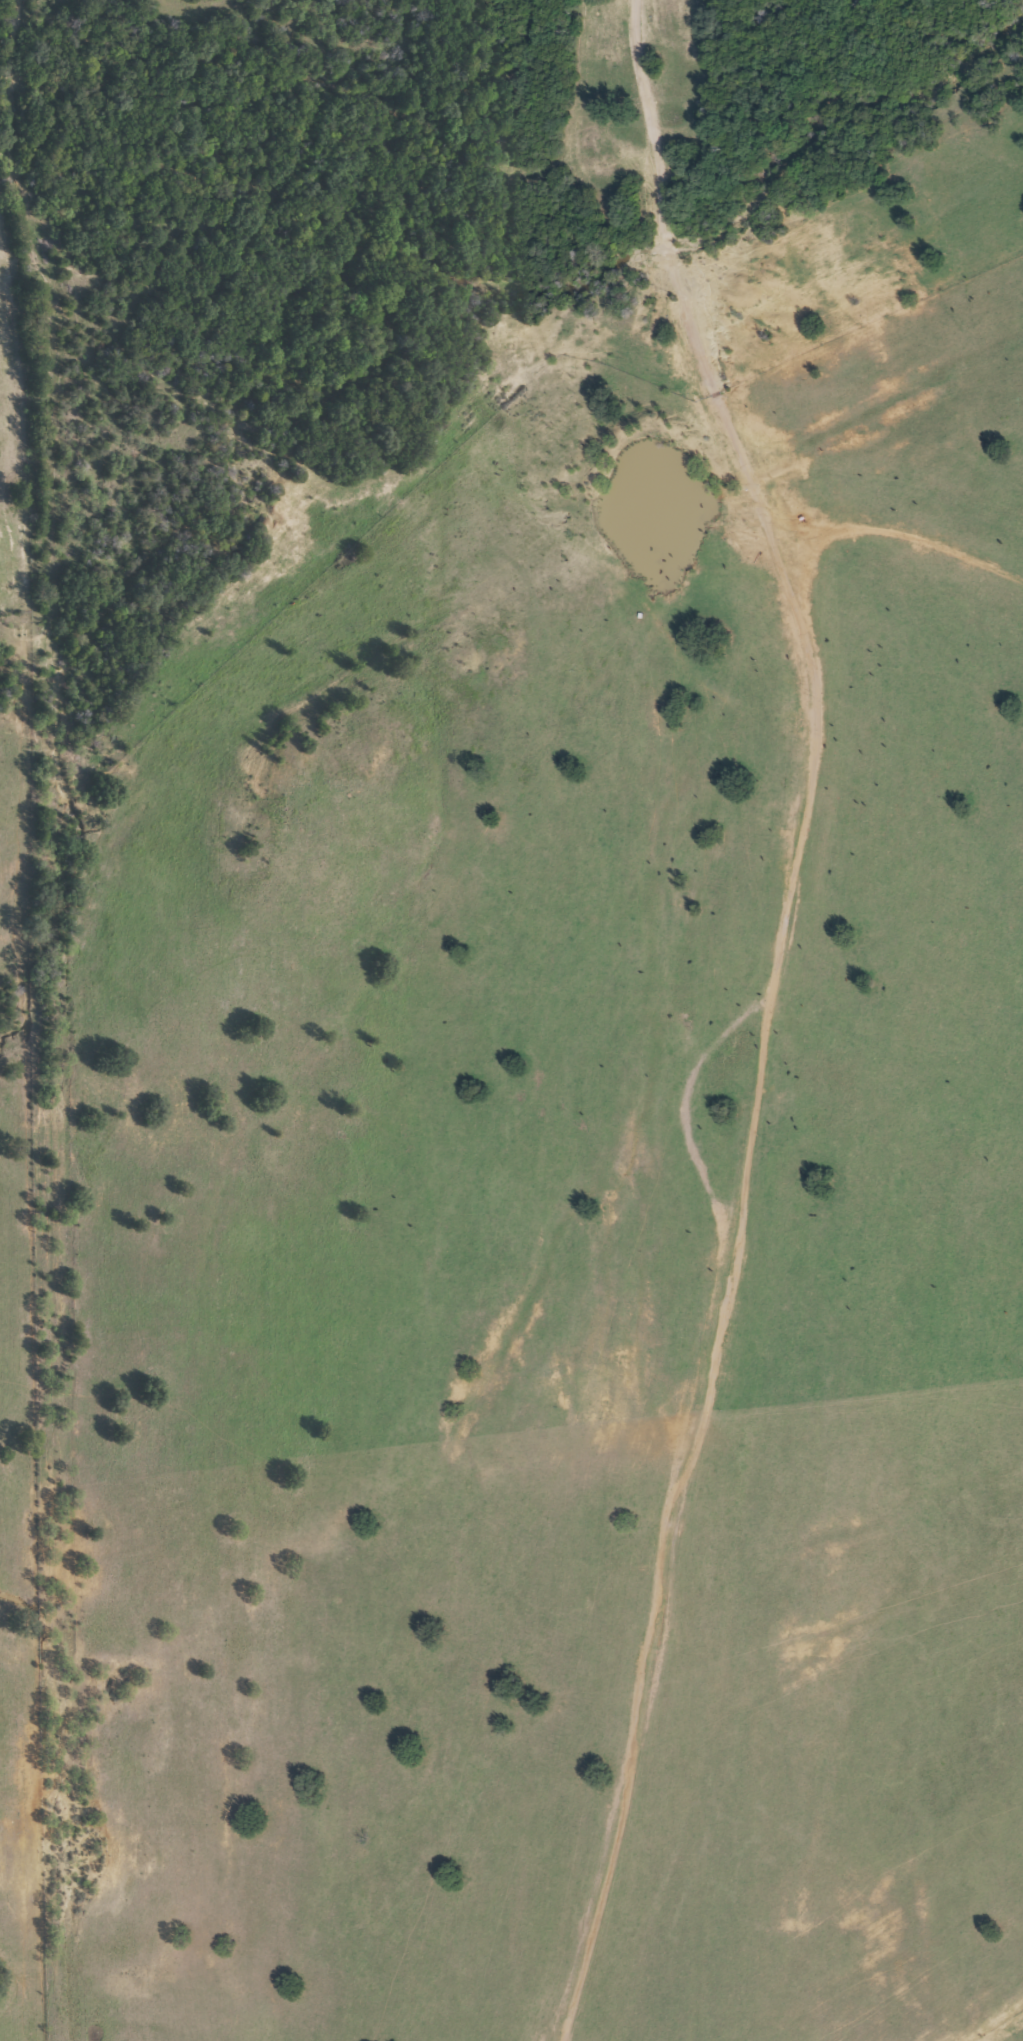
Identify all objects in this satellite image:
road: (899, 541)
road: (736, 1019)

